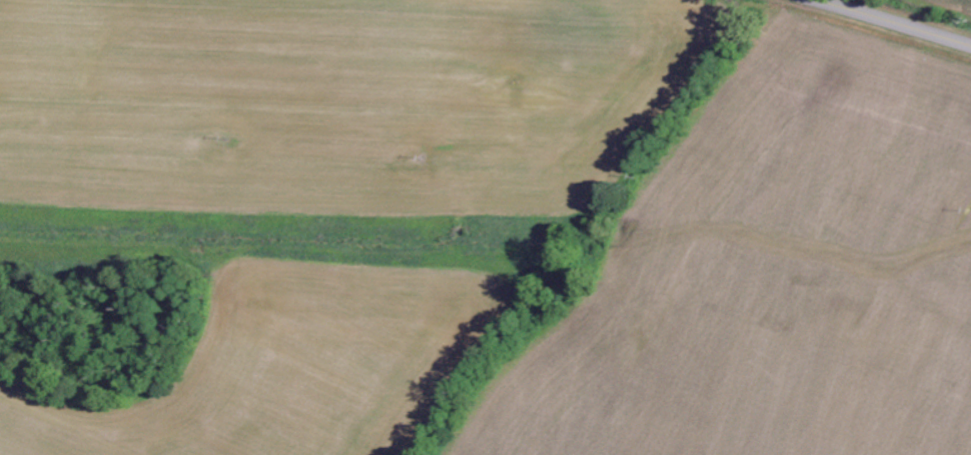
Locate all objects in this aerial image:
road: (894, 22)

